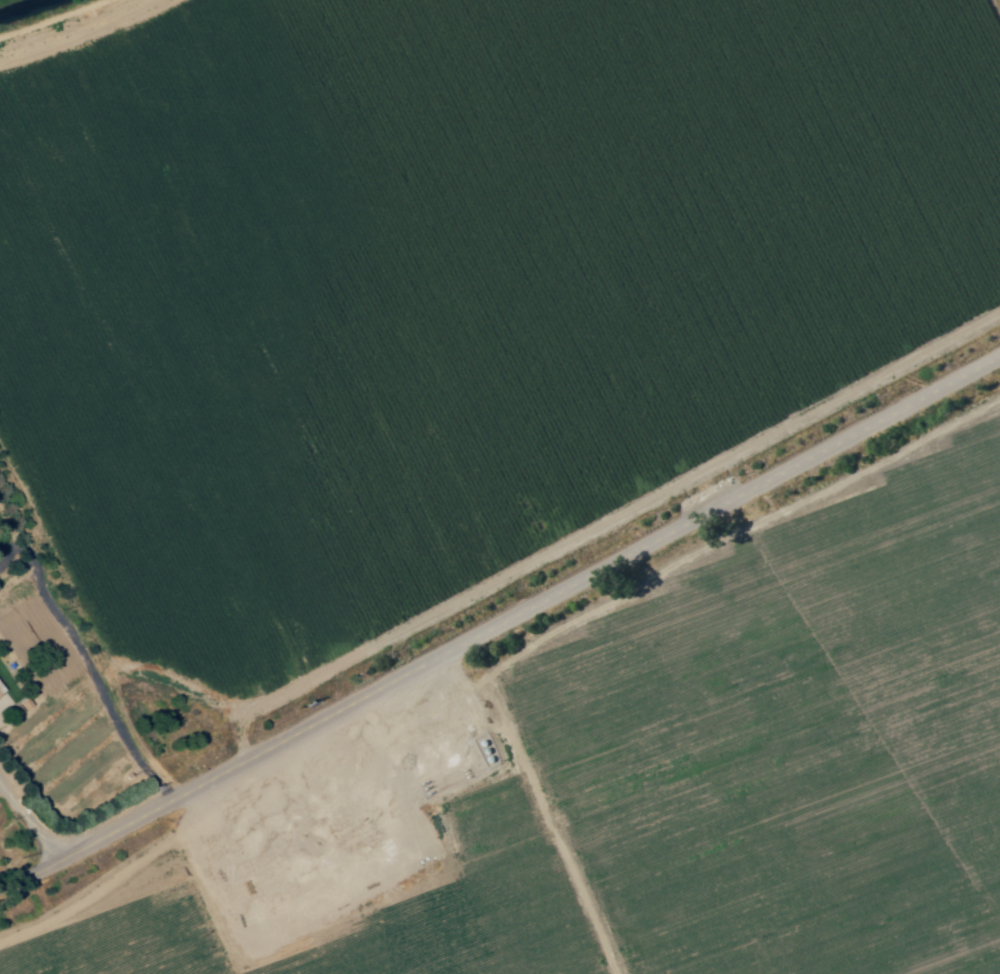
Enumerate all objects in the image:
road: (501, 620)
road: (87, 664)
road: (26, 821)

